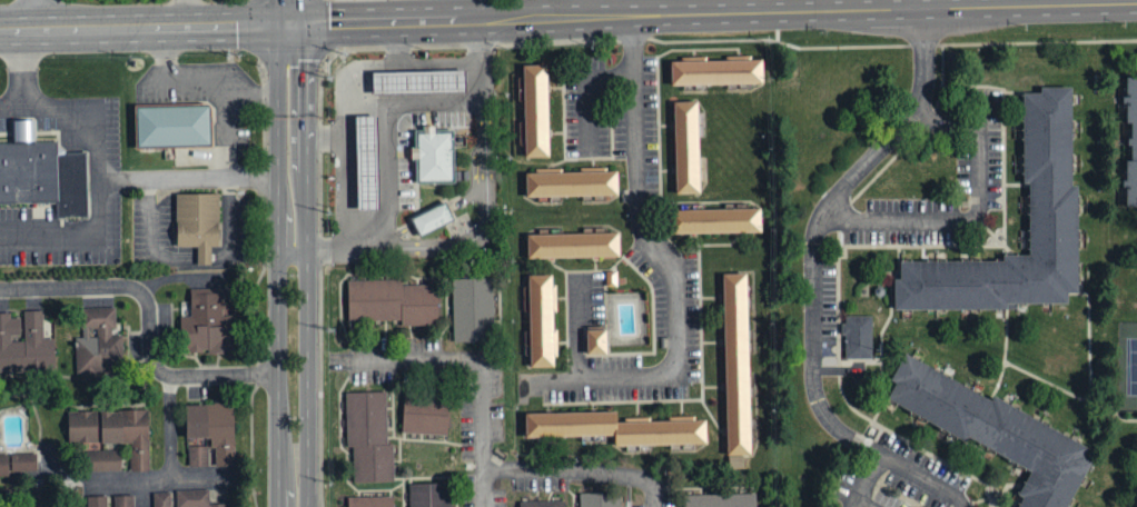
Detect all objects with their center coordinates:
road: (919, 2)
road: (284, 10)
road: (711, 12)
road: (45, 14)
traffic signals: (286, 21)
road: (142, 28)
road: (449, 59)
road: (29, 70)
building: (715, 70)
road: (215, 77)
building: (535, 109)
road: (77, 113)
building: (172, 123)
road: (241, 130)
building: (433, 138)
gas station: (433, 138)
building: (1131, 138)
building: (686, 145)
road: (345, 162)
building: (43, 171)
road: (206, 173)
building: (571, 181)
road: (294, 197)
road: (976, 216)
building: (432, 217)
building: (1052, 217)
building: (714, 218)
building: (197, 221)
road: (86, 238)
road: (482, 238)
building: (573, 243)
road: (813, 257)
road: (671, 270)
building: (392, 300)
building: (473, 306)
building: (540, 318)
building: (207, 324)
road: (577, 327)
road: (149, 328)
building: (858, 335)
building: (99, 344)
building: (596, 344)
building: (26, 345)
road: (482, 365)
park: (1131, 367)
building: (736, 370)
building: (424, 410)
road: (169, 424)
building: (615, 426)
building: (992, 428)
building: (212, 429)
building: (113, 433)
building: (368, 436)
road: (294, 440)
building: (197, 456)
building: (103, 461)
building: (18, 465)
road: (151, 470)
road: (582, 470)
road: (925, 478)
building: (428, 494)
building: (194, 498)
building: (162, 499)
building: (599, 499)
building: (721, 499)
building: (370, 500)
building: (97, 501)
building: (123, 501)
building: (542, 503)
road: (862, 504)

